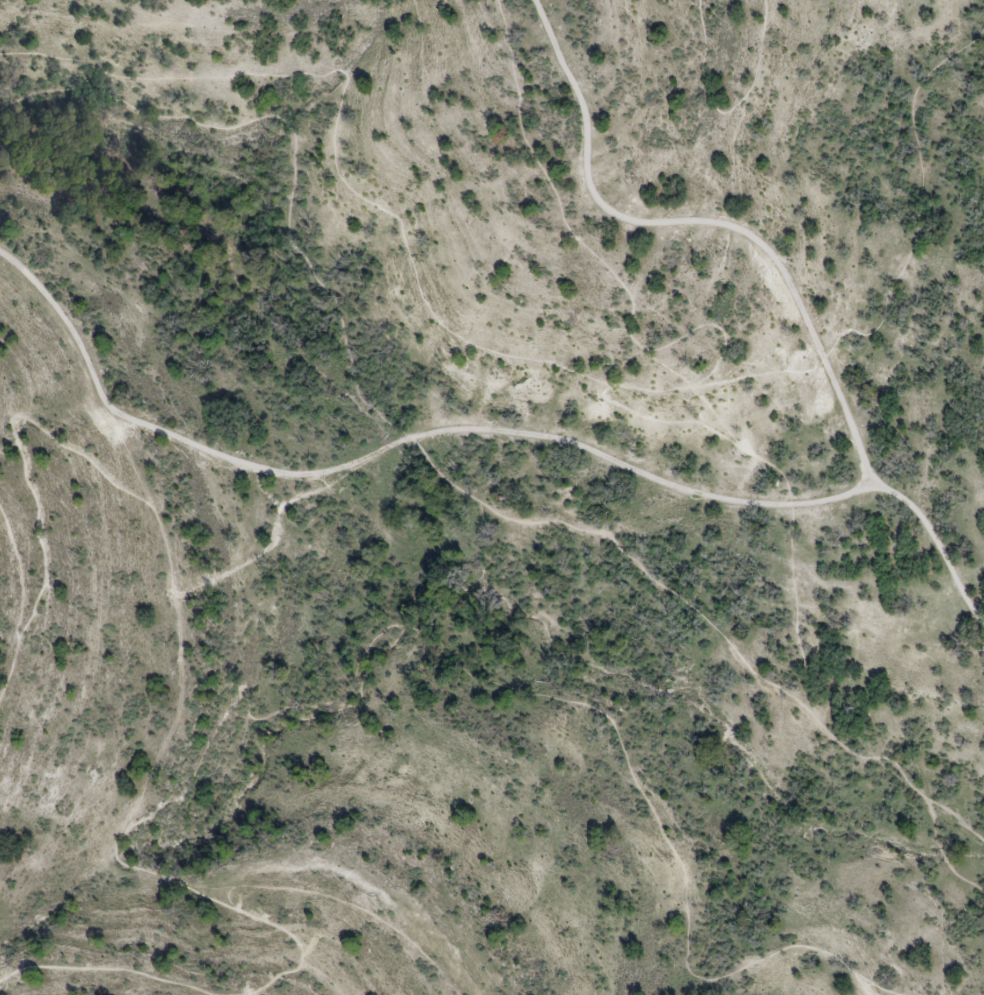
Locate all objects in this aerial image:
road: (725, 110)
road: (256, 197)
road: (919, 204)
road: (393, 215)
road: (786, 285)
road: (392, 441)
road: (12, 542)
road: (683, 595)
road: (15, 634)
road: (463, 660)
road: (943, 859)
road: (342, 904)
road: (289, 935)
road: (105, 969)
road: (864, 984)
road: (873, 986)

